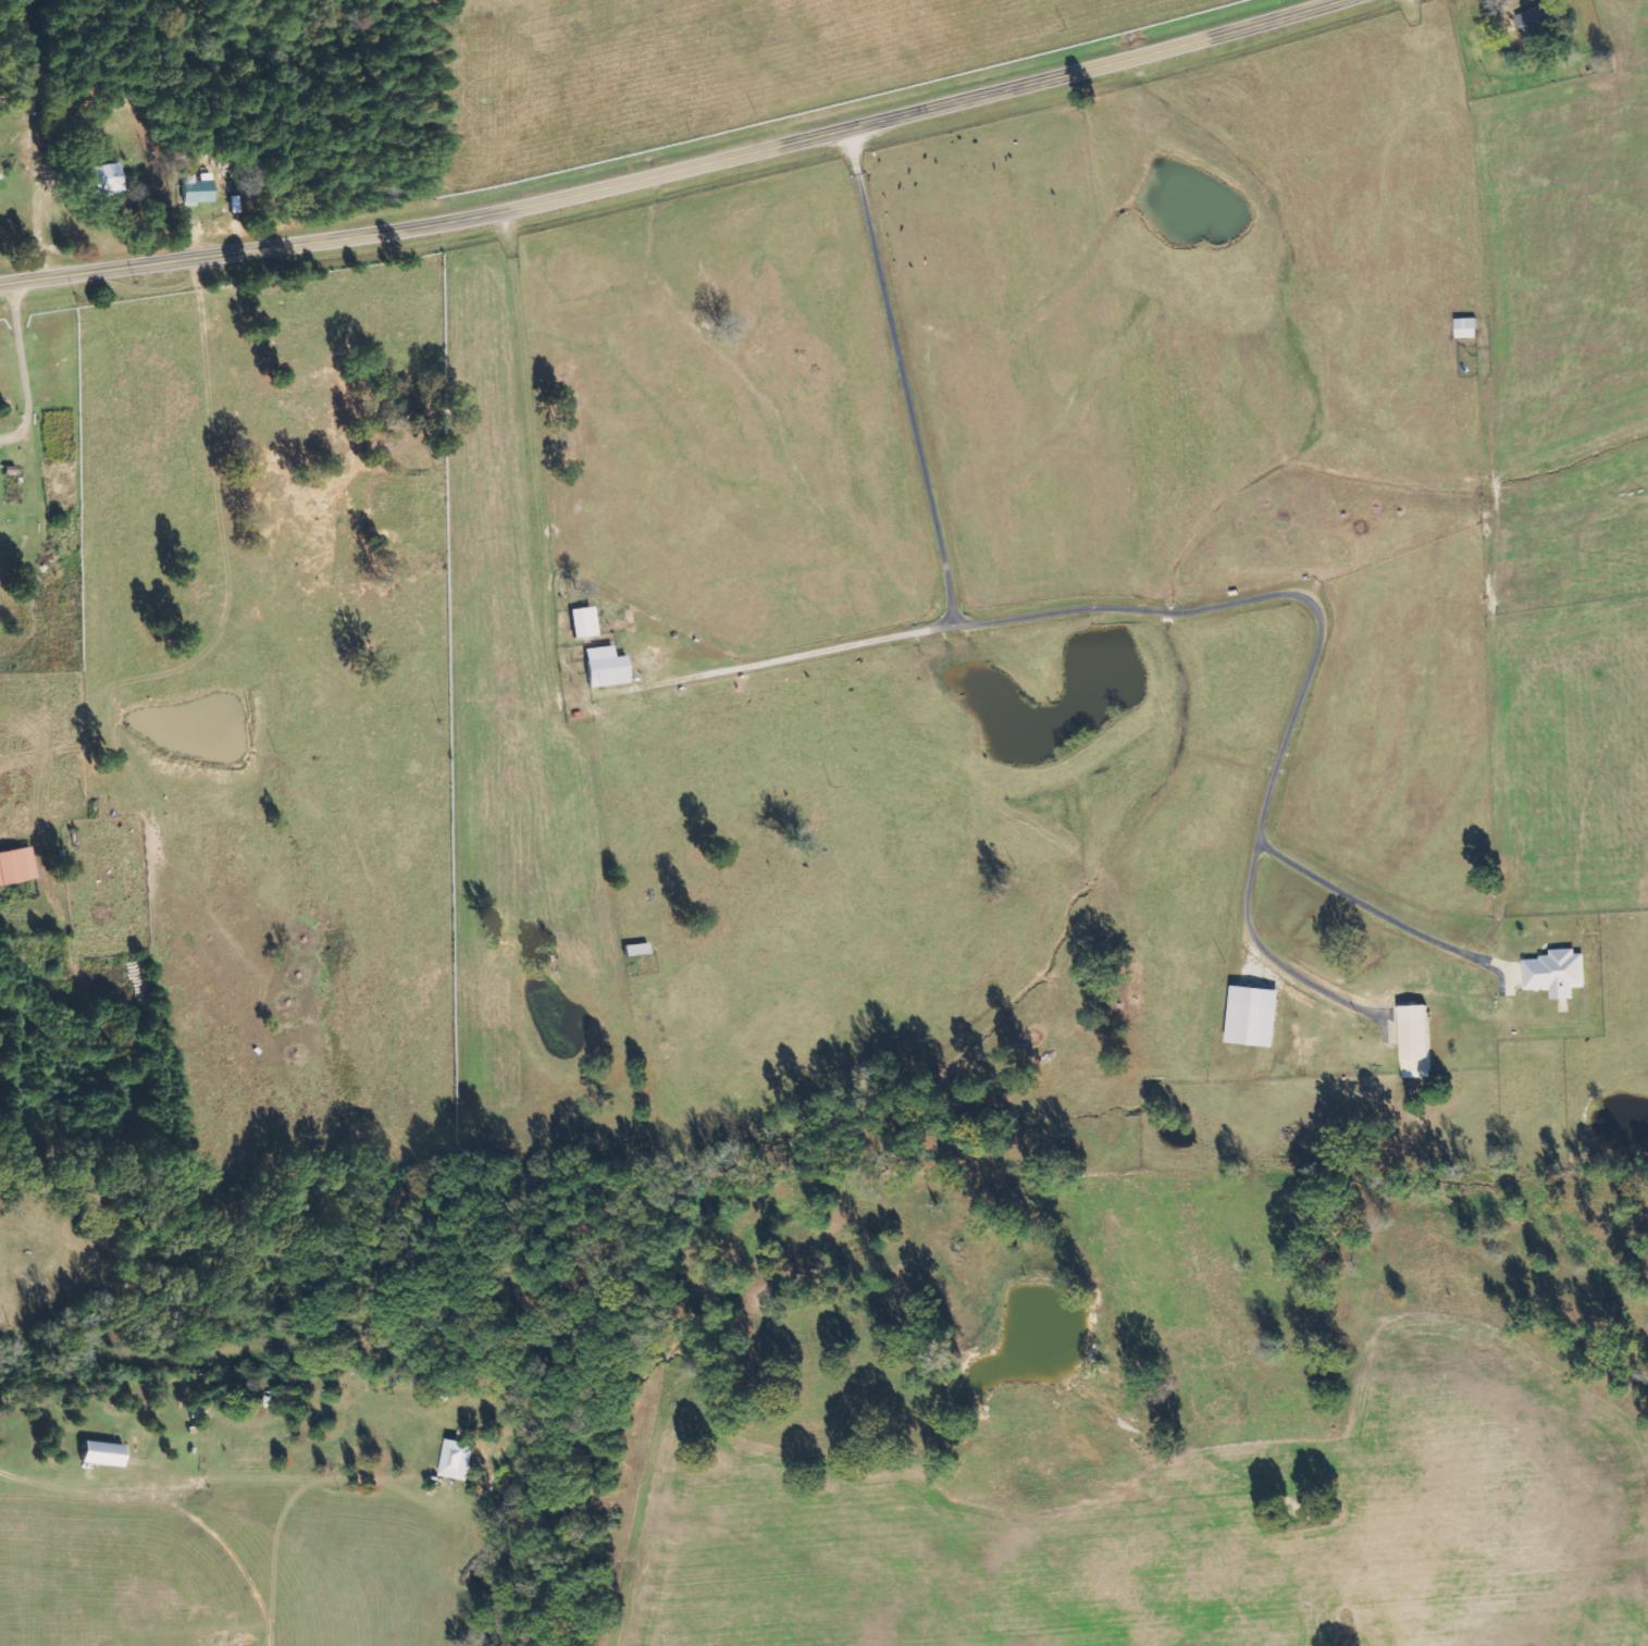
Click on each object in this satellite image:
building: (1537, 26)
road: (677, 171)
building: (98, 178)
building: (1465, 327)
building: (581, 621)
building: (604, 666)
building: (15, 864)
building: (1556, 971)
building: (1251, 1015)
building: (1414, 1040)
building: (100, 1452)
building: (456, 1459)

